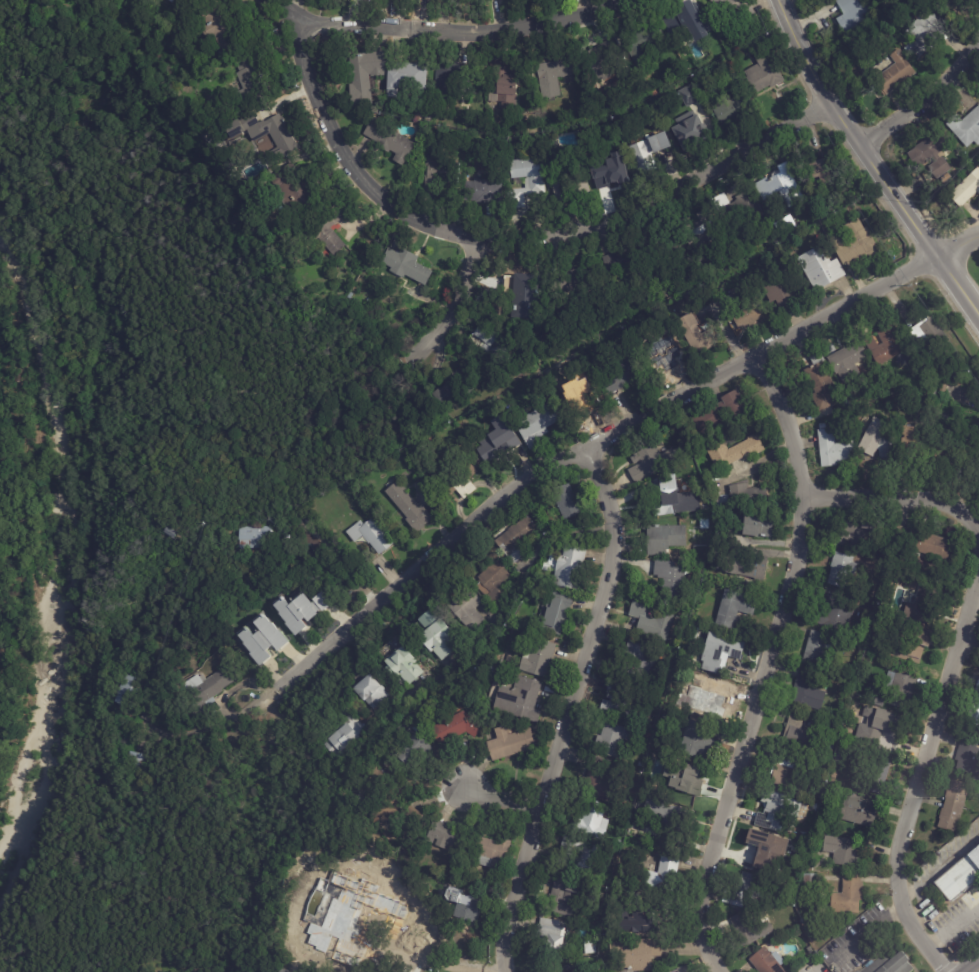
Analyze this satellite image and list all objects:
building: (181, 2)
building: (949, 4)
building: (734, 10)
building: (100, 11)
building: (852, 15)
building: (682, 21)
building: (217, 26)
road: (466, 29)
building: (924, 35)
building: (641, 41)
building: (685, 47)
building: (602, 58)
building: (762, 71)
building: (895, 73)
building: (408, 75)
building: (363, 76)
building: (555, 76)
building: (448, 80)
building: (698, 80)
building: (249, 81)
building: (504, 86)
building: (687, 95)
road: (923, 103)
building: (730, 110)
building: (427, 118)
building: (436, 120)
building: (692, 125)
building: (966, 128)
building: (234, 129)
building: (276, 134)
building: (388, 141)
road: (337, 146)
building: (648, 153)
building: (931, 155)
road: (870, 164)
building: (824, 173)
building: (440, 174)
building: (609, 178)
building: (525, 183)
building: (570, 185)
building: (781, 186)
building: (852, 189)
building: (966, 189)
building: (482, 191)
road: (660, 193)
building: (294, 194)
building: (768, 200)
building: (851, 208)
building: (736, 210)
building: (784, 226)
building: (327, 230)
building: (829, 232)
building: (698, 234)
building: (855, 244)
road: (957, 245)
building: (657, 256)
building: (625, 265)
building: (405, 266)
building: (821, 272)
building: (573, 281)
building: (778, 290)
building: (518, 291)
building: (687, 298)
road: (455, 304)
building: (744, 309)
building: (694, 335)
building: (929, 340)
building: (884, 346)
building: (490, 347)
building: (662, 353)
building: (847, 363)
building: (959, 369)
building: (620, 375)
building: (821, 385)
building: (942, 388)
building: (450, 389)
building: (933, 391)
building: (581, 396)
building: (721, 413)
building: (536, 426)
building: (579, 427)
building: (975, 429)
building: (876, 441)
building: (912, 441)
building: (495, 446)
road: (590, 446)
building: (835, 446)
building: (952, 448)
building: (734, 452)
building: (977, 458)
building: (654, 462)
building: (455, 477)
park: (141, 491)
building: (747, 497)
building: (674, 498)
road: (898, 499)
building: (564, 503)
building: (721, 503)
building: (407, 508)
building: (707, 509)
building: (574, 523)
building: (758, 527)
building: (855, 530)
building: (370, 536)
building: (722, 536)
building: (251, 538)
building: (664, 539)
building: (514, 540)
building: (923, 541)
road: (341, 563)
building: (882, 566)
building: (566, 569)
building: (744, 569)
building: (841, 569)
building: (670, 578)
building: (492, 583)
building: (319, 604)
building: (922, 604)
building: (733, 609)
building: (834, 611)
building: (467, 612)
building: (292, 613)
building: (555, 614)
building: (651, 623)
building: (261, 641)
road: (970, 642)
building: (436, 643)
building: (909, 646)
building: (816, 649)
building: (720, 654)
building: (537, 660)
building: (636, 662)
road: (766, 662)
building: (400, 668)
building: (487, 672)
building: (210, 686)
building: (900, 687)
building: (808, 690)
building: (367, 694)
building: (125, 695)
building: (518, 701)
building: (713, 701)
building: (620, 704)
building: (855, 705)
building: (975, 707)
road: (570, 709)
building: (145, 717)
building: (853, 717)
building: (876, 725)
building: (453, 730)
building: (798, 730)
building: (340, 732)
building: (611, 741)
building: (696, 742)
building: (509, 745)
building: (409, 749)
building: (828, 750)
building: (968, 756)
building: (843, 757)
building: (688, 760)
building: (654, 761)
building: (133, 762)
building: (827, 766)
building: (786, 772)
building: (874, 778)
road: (917, 780)
building: (976, 780)
building: (597, 781)
building: (684, 787)
road: (499, 799)
building: (953, 805)
building: (798, 806)
building: (775, 809)
building: (854, 809)
building: (393, 810)
building: (666, 819)
building: (818, 821)
building: (591, 822)
building: (447, 838)
building: (770, 849)
building: (843, 852)
building: (489, 853)
building: (576, 857)
road: (939, 866)
building: (809, 867)
building: (663, 876)
building: (960, 876)
building: (810, 879)
building: (747, 891)
building: (849, 895)
building: (560, 898)
building: (468, 909)
building: (650, 920)
road: (951, 926)
building: (749, 928)
building: (365, 931)
building: (549, 936)
road: (871, 936)
building: (302, 939)
building: (589, 946)
building: (634, 953)
building: (809, 953)
building: (765, 962)
building: (891, 963)
road: (439, 965)
building: (816, 967)
building: (546, 969)
building: (280, 970)
building: (572, 971)
building: (679, 971)
road: (978, 971)

